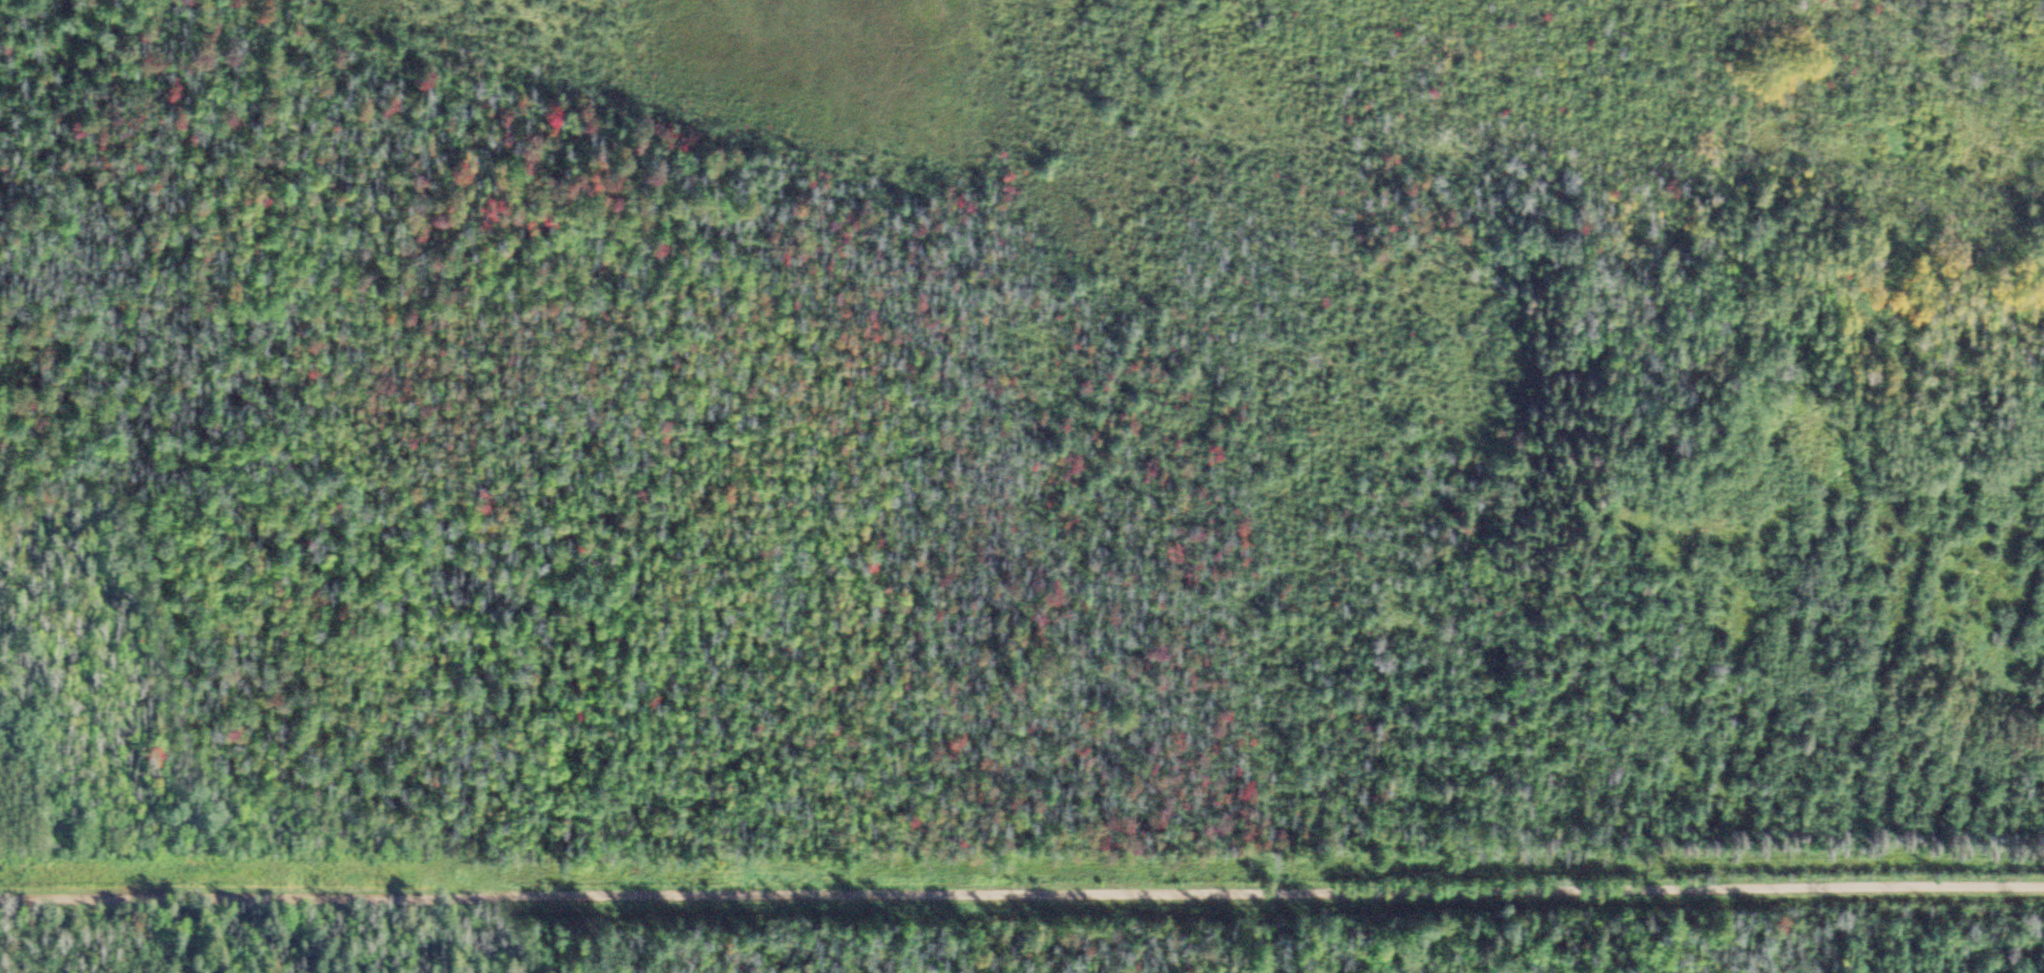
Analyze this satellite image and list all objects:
road: (1022, 868)

